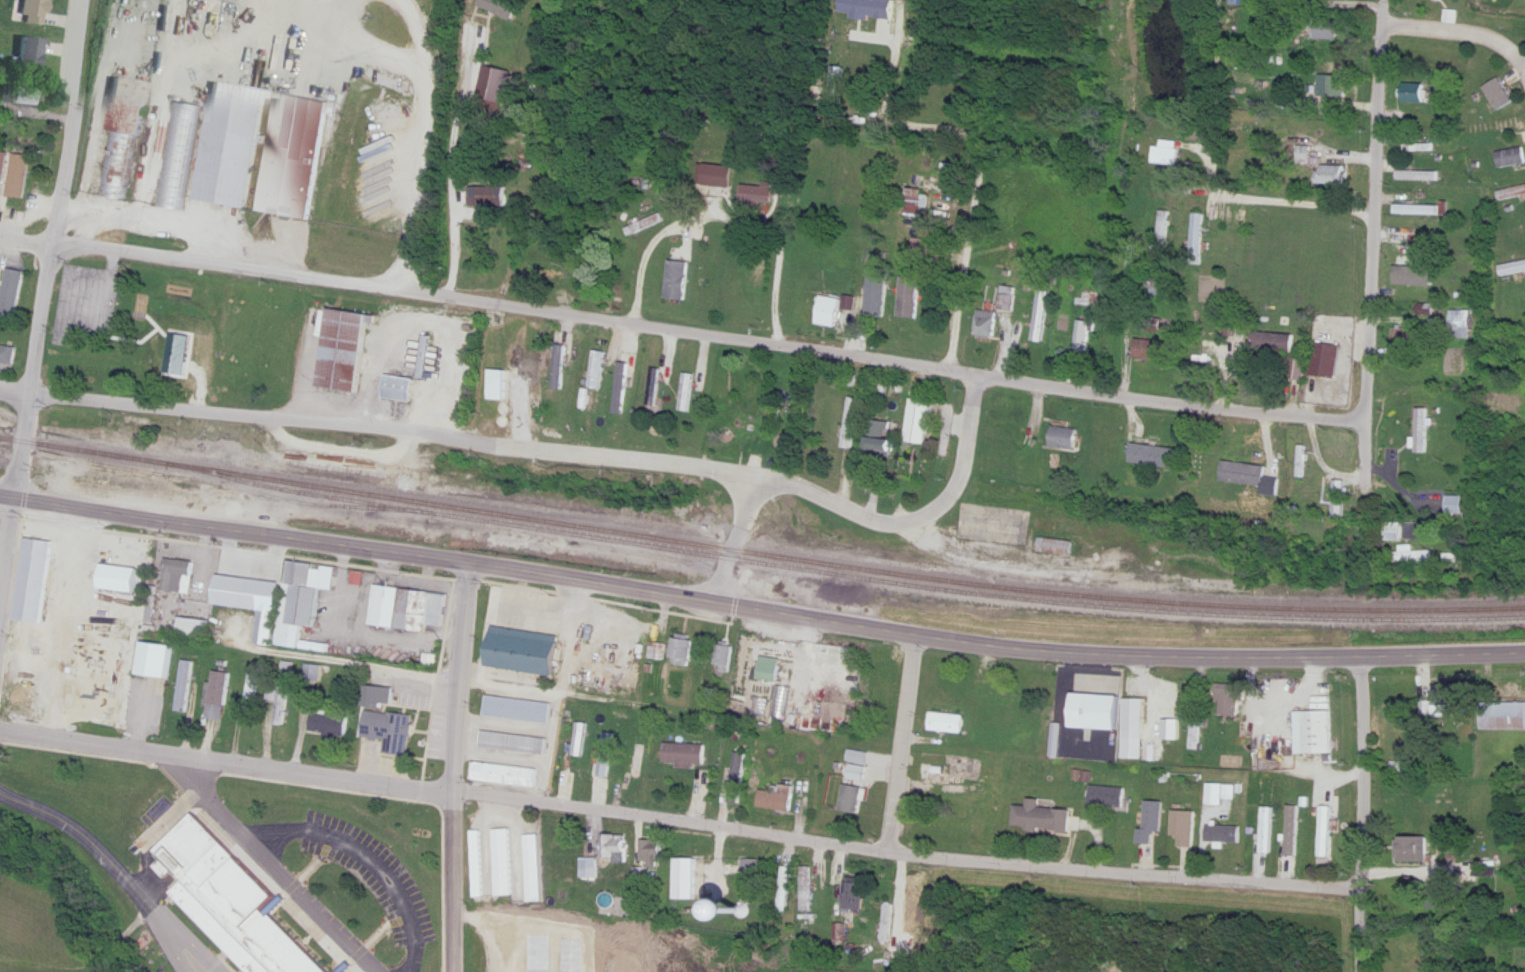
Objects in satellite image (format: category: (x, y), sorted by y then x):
building: (39, 11)
road: (1462, 18)
building: (493, 30)
building: (243, 40)
building: (36, 52)
building: (1334, 85)
building: (835, 86)
building: (1419, 93)
building: (1500, 94)
building: (31, 96)
building: (1203, 122)
building: (124, 135)
road: (978, 145)
building: (1417, 148)
building: (180, 156)
building: (1165, 156)
road: (455, 158)
building: (1510, 158)
road: (1208, 159)
building: (295, 173)
building: (2, 175)
building: (1336, 175)
building: (20, 176)
building: (1420, 176)
road: (1211, 187)
road: (1292, 191)
building: (1511, 193)
building: (757, 194)
building: (486, 196)
building: (918, 202)
road: (162, 204)
building: (1424, 210)
road: (83, 214)
building: (647, 225)
road: (411, 226)
building: (1163, 228)
road: (774, 229)
building: (1198, 235)
building: (1239, 241)
road: (1371, 244)
road: (48, 247)
road: (646, 257)
building: (1512, 268)
building: (555, 273)
building: (1415, 278)
building: (878, 281)
building: (694, 288)
building: (13, 295)
building: (910, 296)
building: (1008, 299)
building: (829, 312)
building: (1041, 316)
building: (245, 318)
road: (683, 318)
park: (164, 320)
building: (1463, 324)
building: (987, 325)
road: (848, 326)
building: (1083, 338)
building: (1410, 338)
building: (1150, 350)
building: (346, 351)
building: (9, 354)
building: (1327, 361)
building: (106, 365)
building: (560, 367)
building: (599, 370)
building: (1301, 371)
road: (15, 379)
building: (654, 387)
building: (400, 388)
building: (501, 391)
building: (686, 393)
building: (774, 413)
road: (393, 421)
building: (824, 421)
building: (920, 421)
building: (850, 422)
road: (966, 427)
building: (1423, 432)
building: (1065, 437)
building: (883, 439)
road: (32, 444)
building: (1154, 455)
building: (1199, 458)
building: (1304, 462)
building: (1024, 474)
building: (155, 487)
road: (850, 496)
building: (1457, 505)
building: (1396, 531)
road: (736, 532)
railway: (760, 540)
building: (1059, 547)
road: (7, 549)
road: (366, 553)
building: (1416, 555)
railway: (862, 564)
building: (182, 576)
building: (38, 581)
building: (282, 602)
road: (759, 608)
building: (409, 609)
building: (196, 628)
building: (519, 638)
building: (656, 651)
building: (682, 652)
building: (518, 653)
building: (725, 657)
building: (884, 660)
building: (158, 661)
building: (772, 669)
road: (458, 672)
road: (435, 677)
building: (186, 686)
building: (997, 693)
building: (220, 696)
building: (252, 696)
building: (281, 700)
building: (782, 702)
building: (1440, 702)
building: (1236, 703)
building: (520, 709)
building: (1503, 716)
building: (390, 717)
building: (1115, 720)
building: (948, 723)
building: (330, 725)
building: (1173, 730)
building: (1196, 730)
road: (85, 732)
building: (1316, 733)
road: (902, 736)
building: (581, 739)
building: (515, 742)
building: (606, 755)
building: (687, 755)
building: (638, 762)
road: (312, 764)
road: (1361, 766)
road: (309, 773)
building: (508, 775)
building: (1223, 794)
building: (853, 796)
building: (782, 797)
building: (1109, 797)
building: (1043, 818)
building: (1153, 821)
road: (323, 825)
building: (1188, 829)
building: (1270, 831)
building: (1327, 832)
building: (1226, 834)
road: (82, 837)
road: (906, 839)
building: (617, 850)
road: (269, 863)
building: (504, 863)
road: (304, 865)
building: (534, 868)
building: (590, 868)
road: (453, 878)
building: (690, 880)
building: (809, 891)
building: (234, 892)
building: (856, 896)
road: (318, 900)
flagpole: (307, 925)
road: (1359, 925)
road: (367, 929)
road: (184, 938)
road: (162, 939)
building: (1416, 951)
road: (83, 953)

